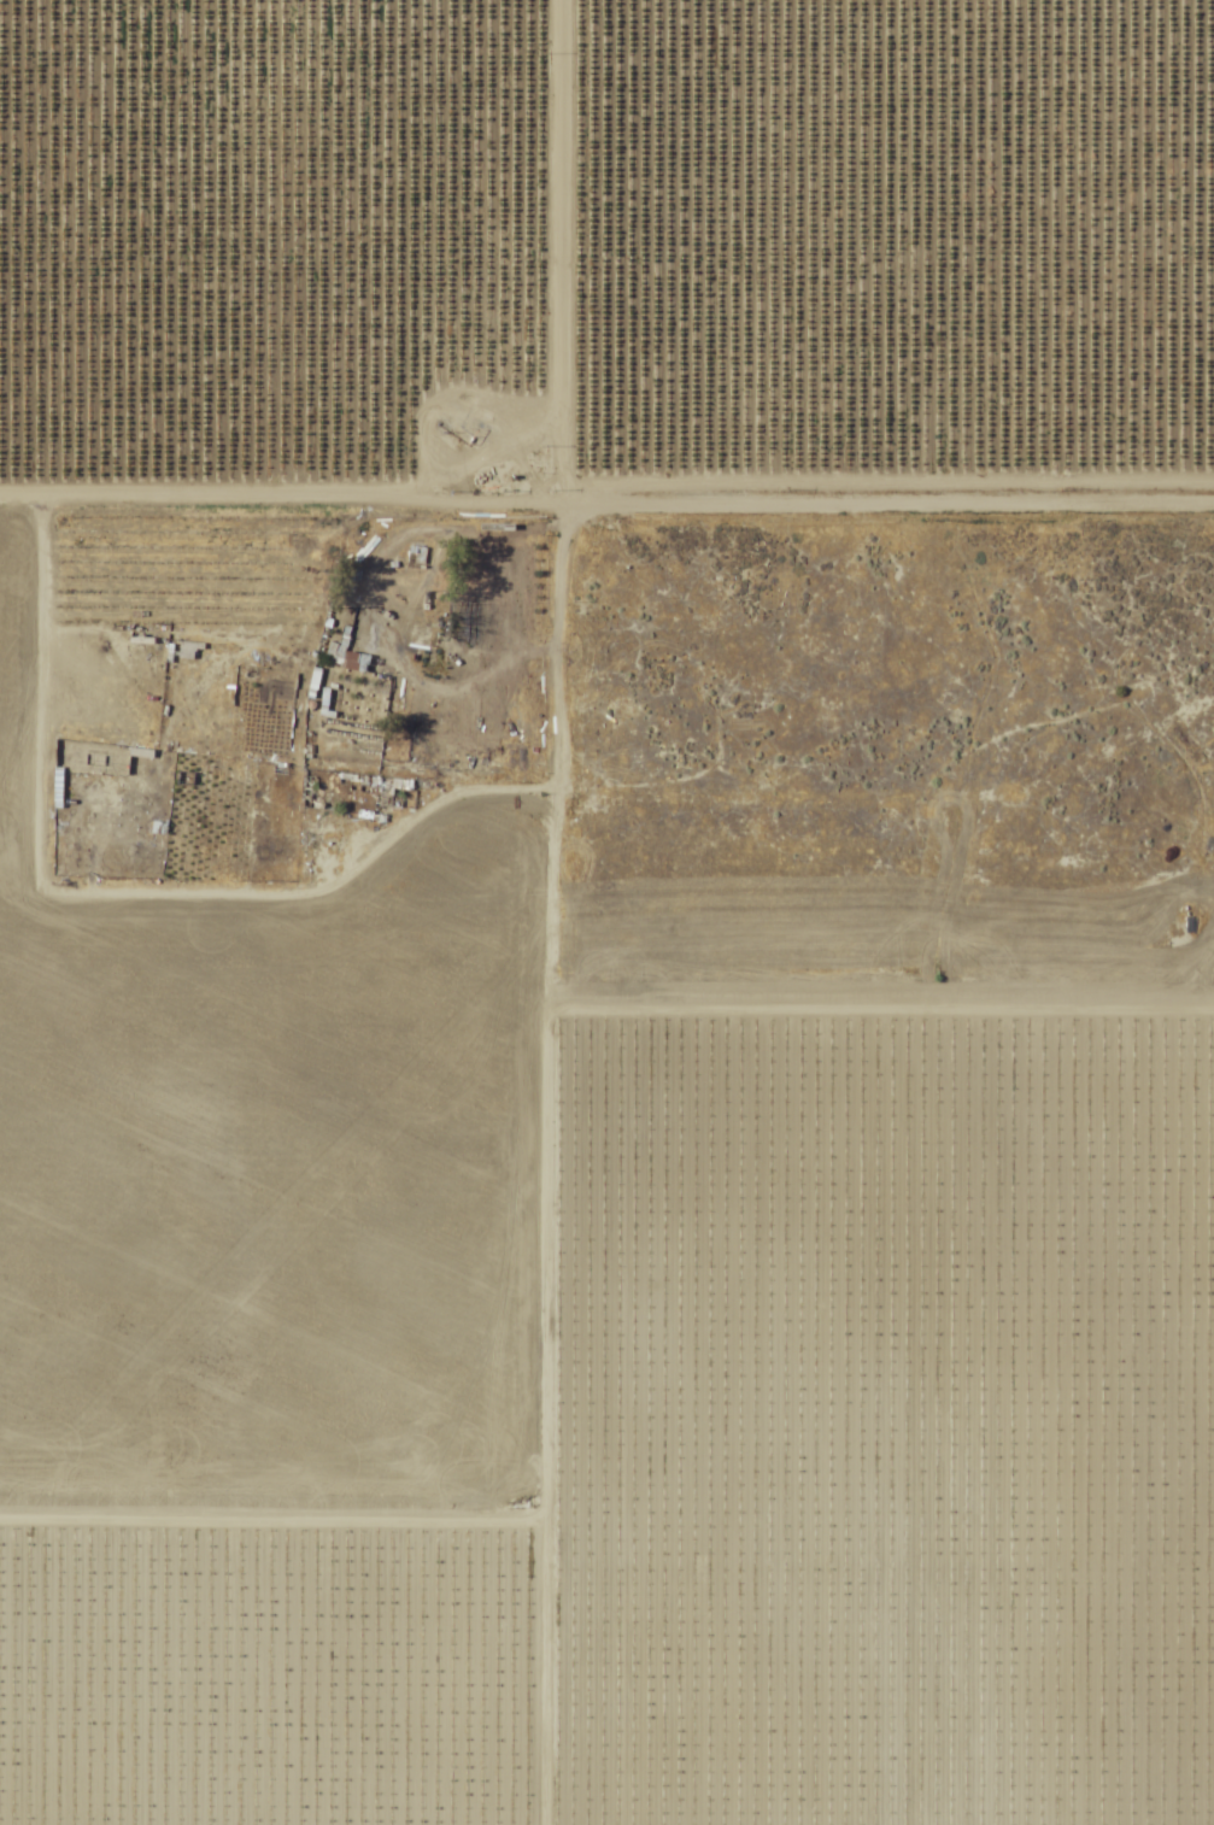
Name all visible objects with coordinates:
road: (556, 246)
road: (590, 494)
building: (415, 559)
building: (469, 624)
building: (345, 656)

